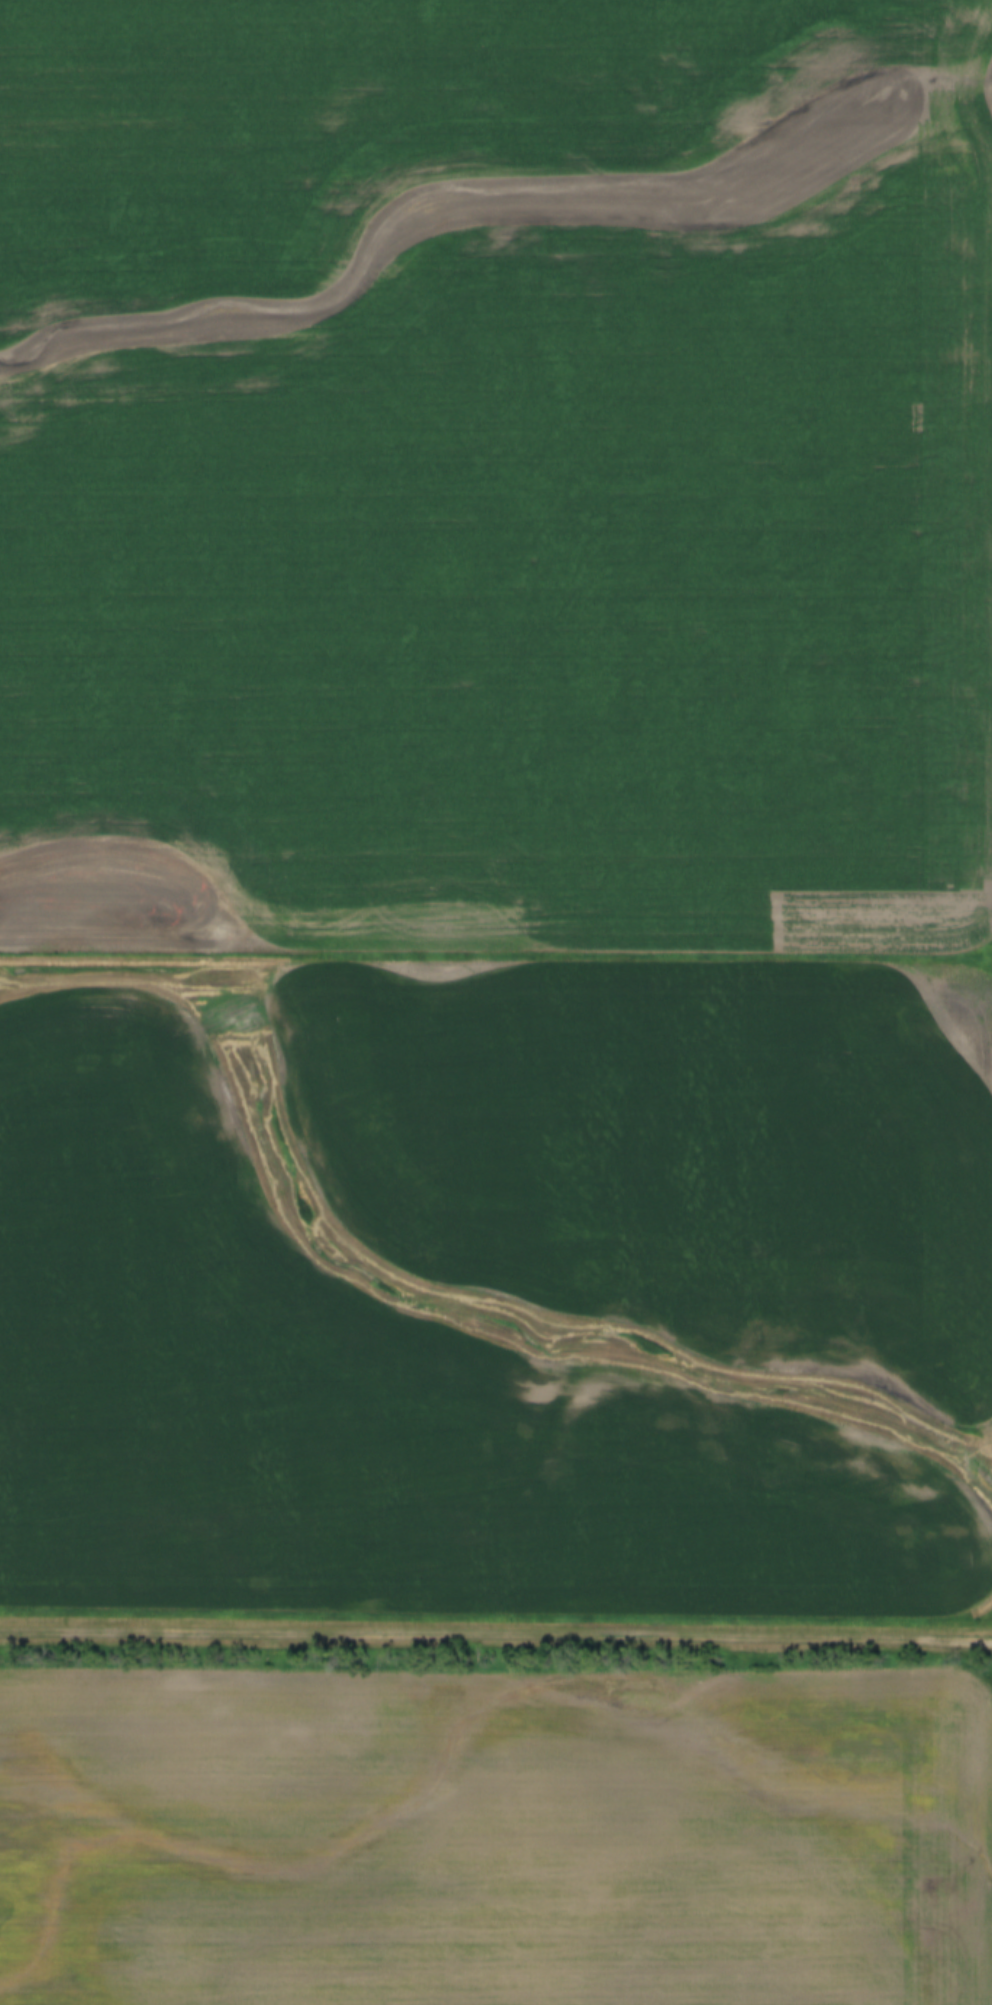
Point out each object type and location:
road: (496, 1629)

